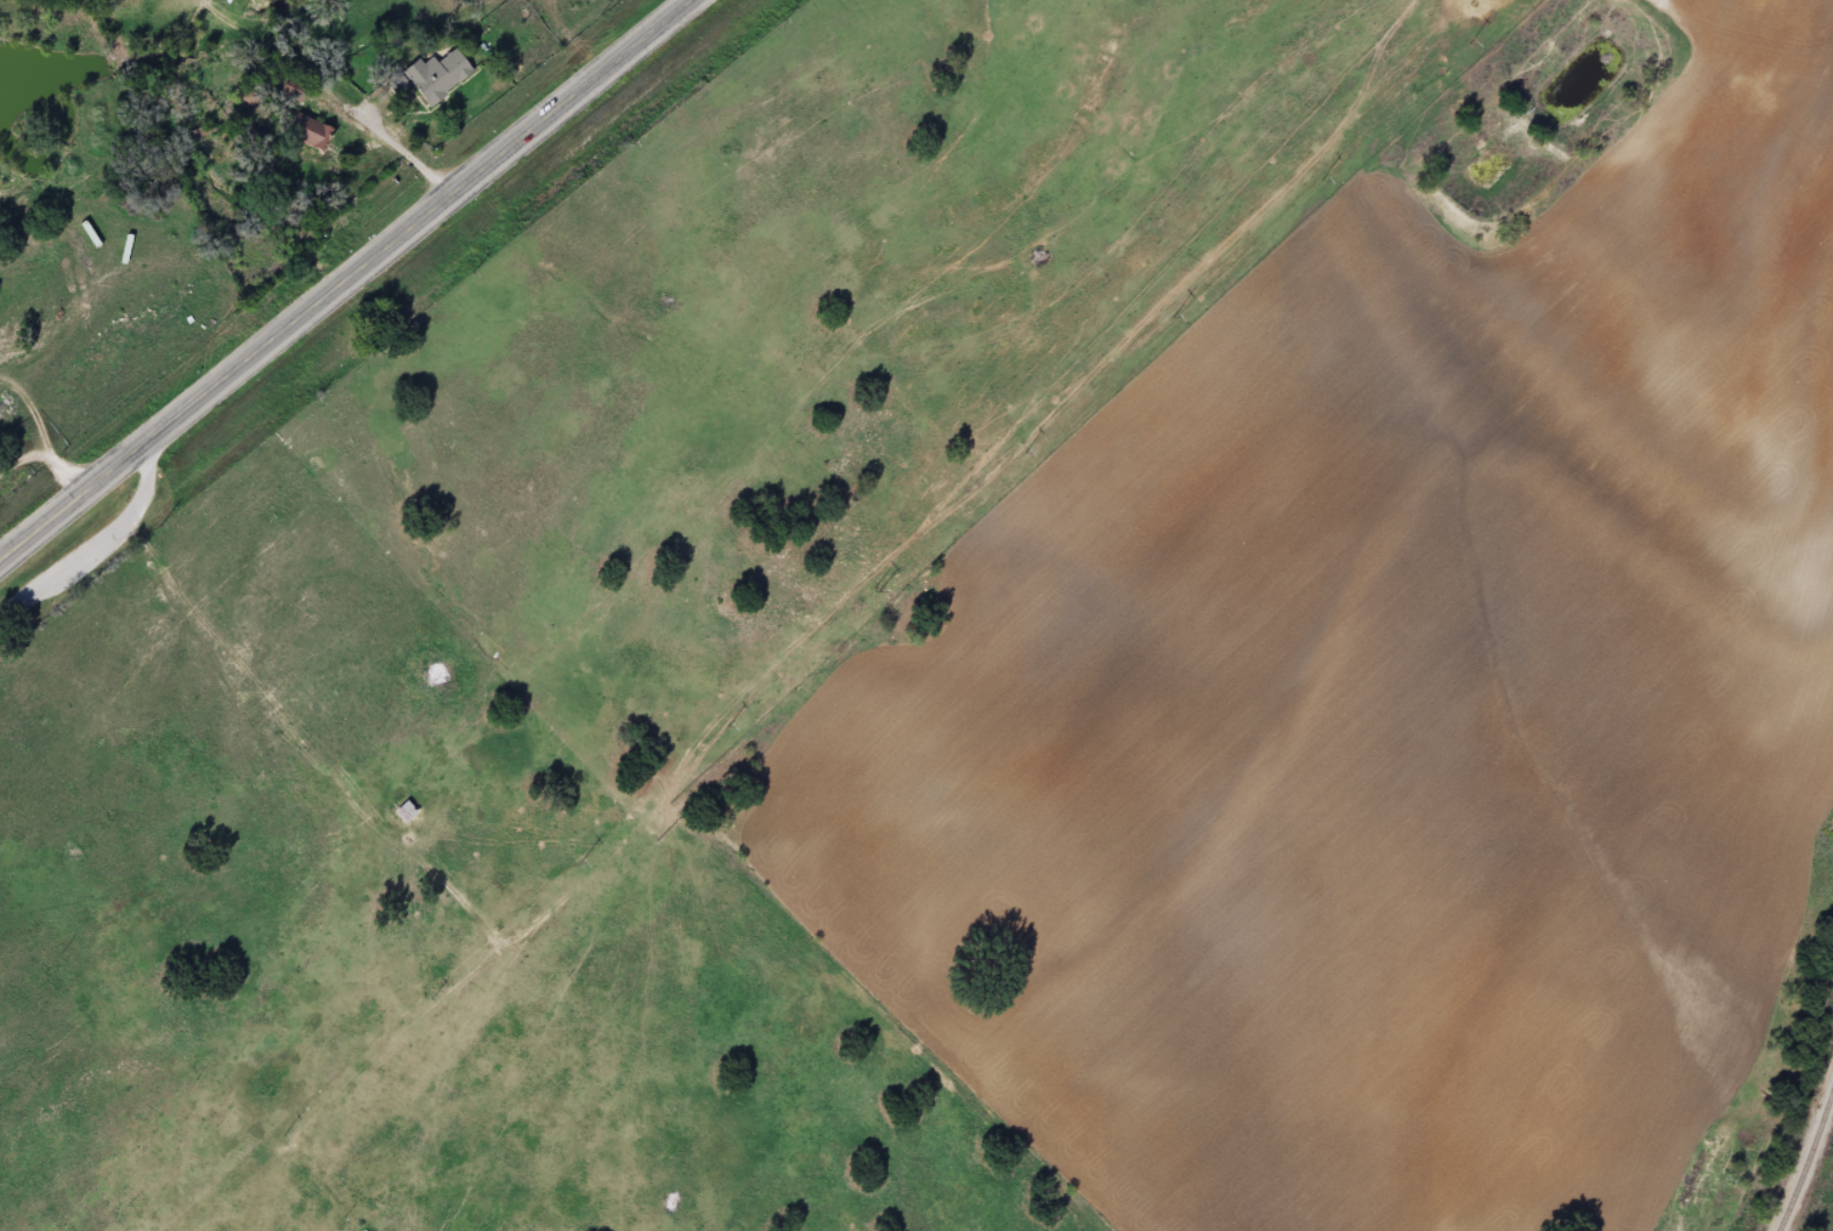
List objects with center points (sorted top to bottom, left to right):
building: (431, 75)
building: (306, 131)
road: (409, 149)
road: (344, 278)
railway: (1808, 1159)

